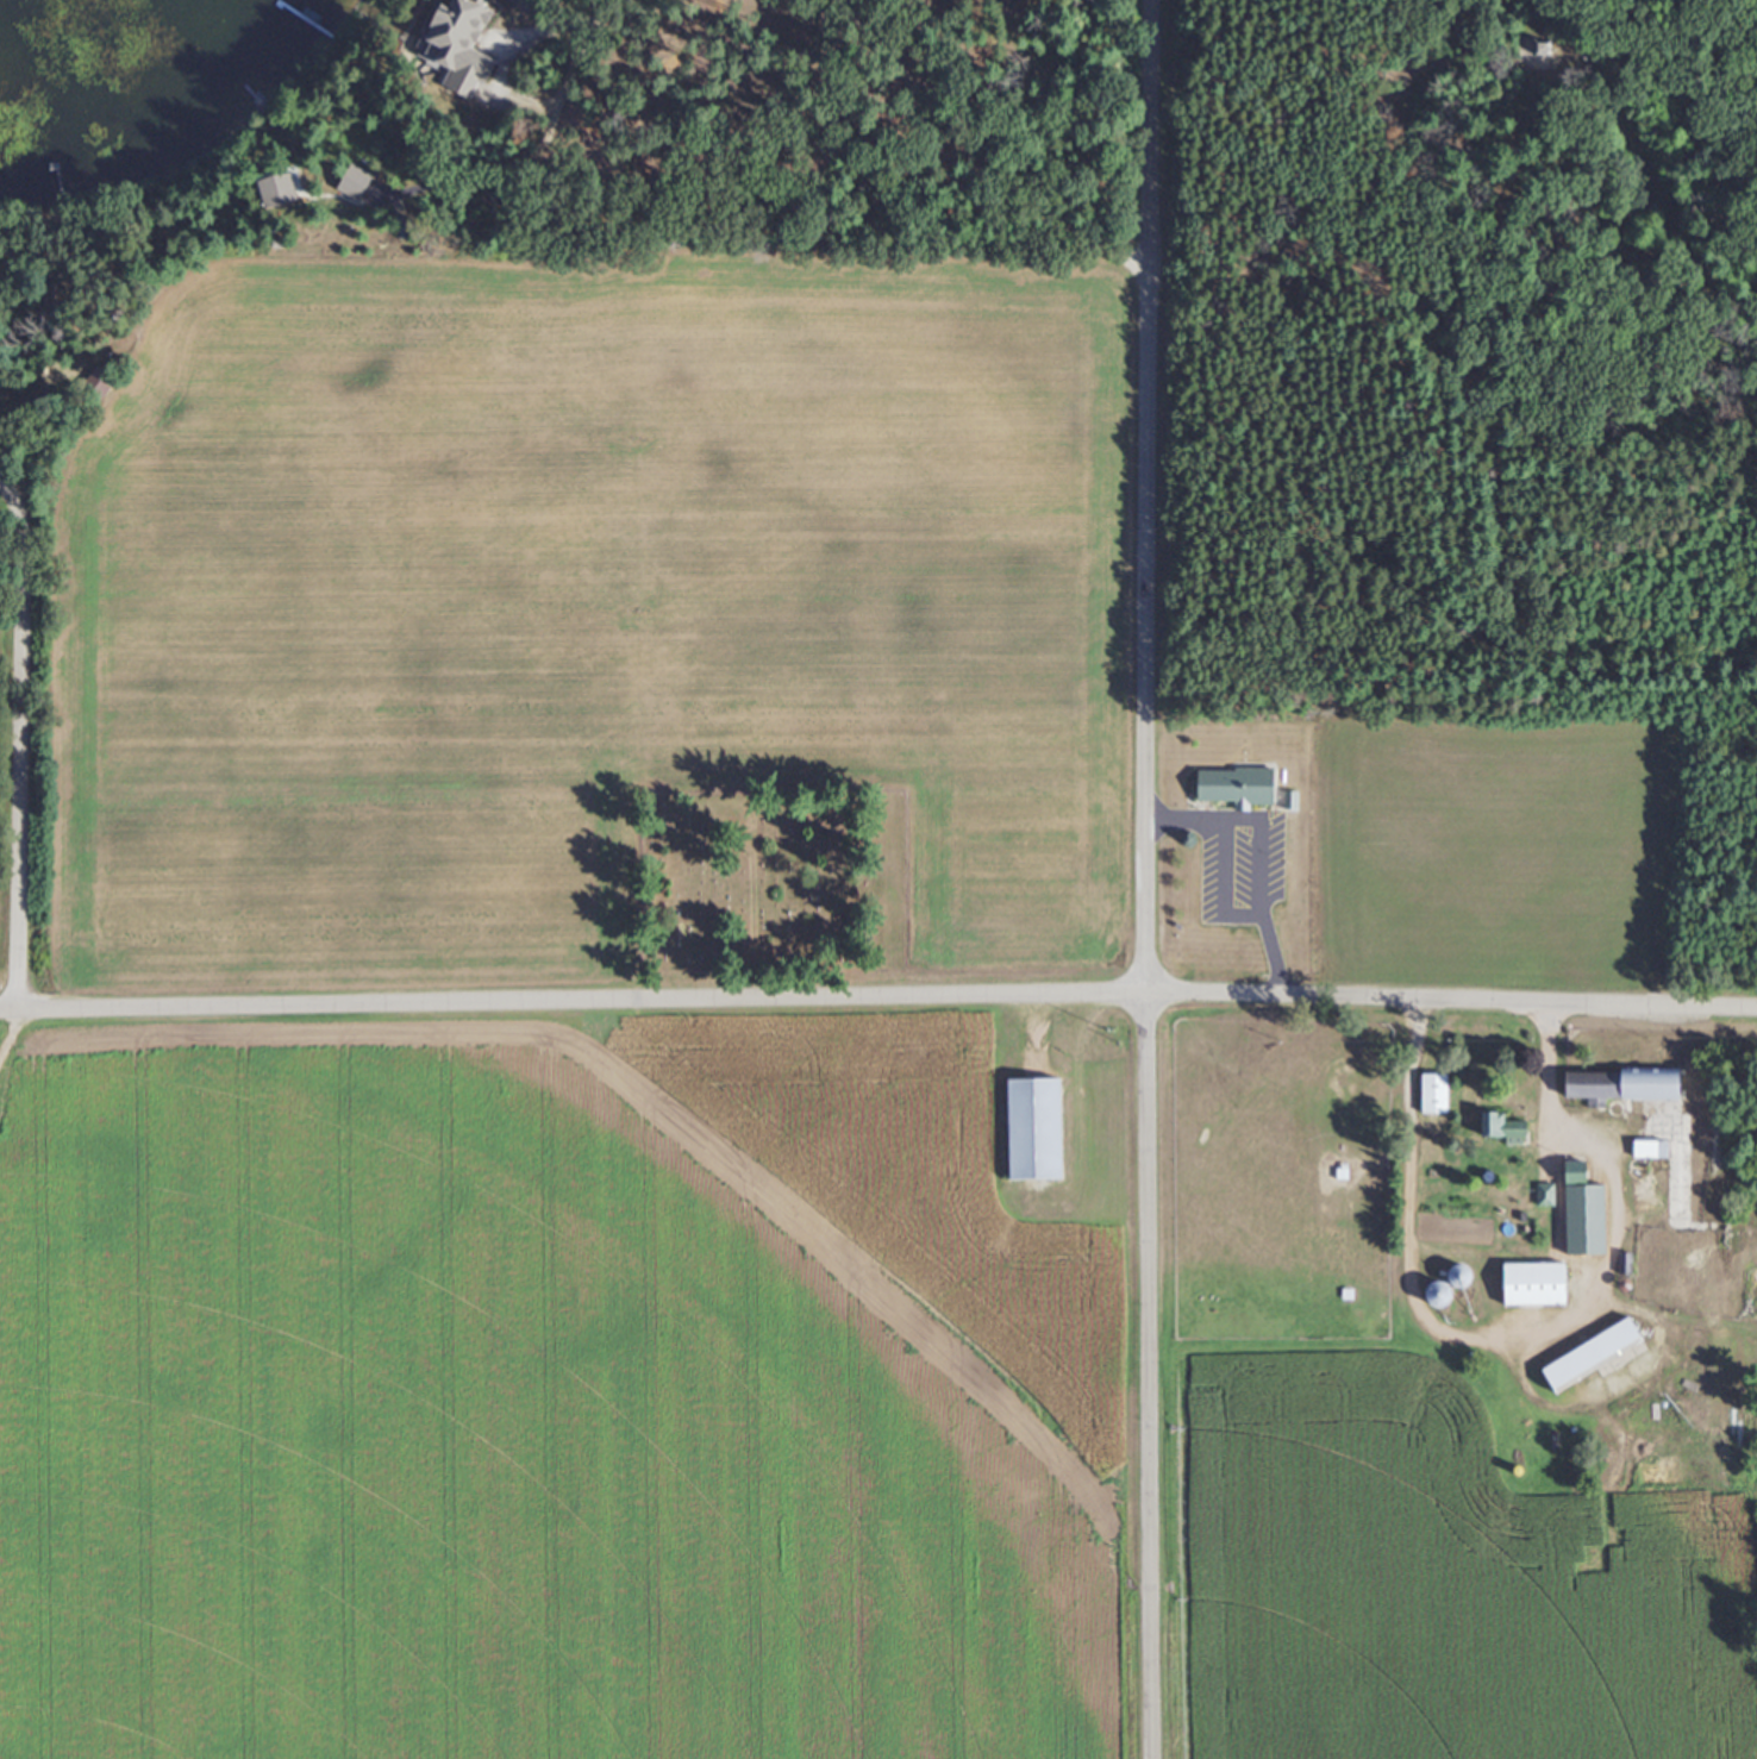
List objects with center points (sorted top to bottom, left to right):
road: (589, 18)
building: (456, 42)
road: (1462, 61)
road: (976, 152)
building: (354, 182)
building: (276, 190)
road: (1420, 209)
road: (1306, 311)
road: (29, 750)
building: (837, 827)
road: (1253, 852)
building: (1212, 869)
road: (1145, 878)
road: (878, 993)
building: (1624, 1083)
building: (1433, 1093)
building: (1501, 1126)
building: (1033, 1127)
building: (1649, 1147)
building: (1575, 1171)
building: (1593, 1226)
building: (1624, 1263)
building: (1533, 1283)
building: (1439, 1294)
road: (1514, 1327)
building: (1592, 1353)

